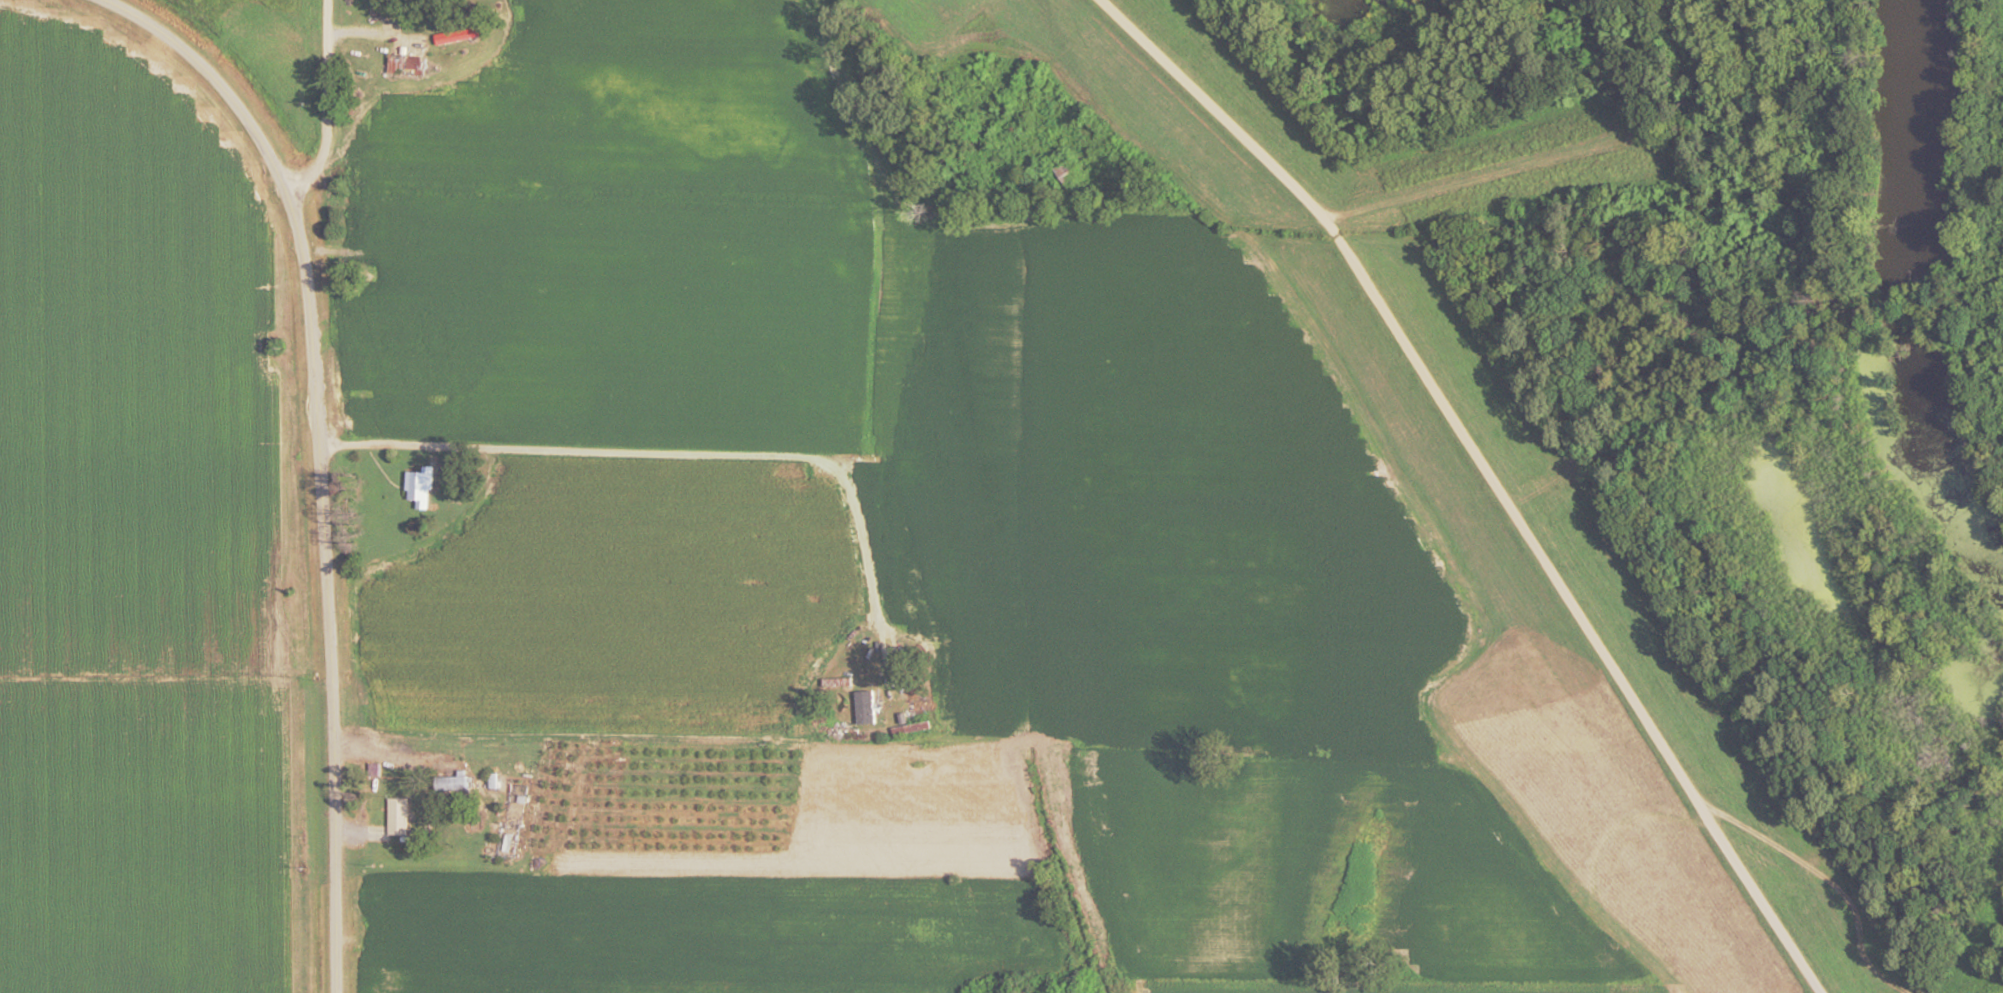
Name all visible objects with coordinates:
building: (370, 8)
road: (1000, 24)
building: (456, 39)
building: (408, 47)
building: (407, 67)
road: (326, 103)
building: (1067, 175)
building: (374, 235)
road: (416, 313)
road: (687, 458)
road: (318, 459)
road: (1486, 476)
building: (416, 492)
building: (862, 710)
building: (395, 819)
road: (1823, 880)

